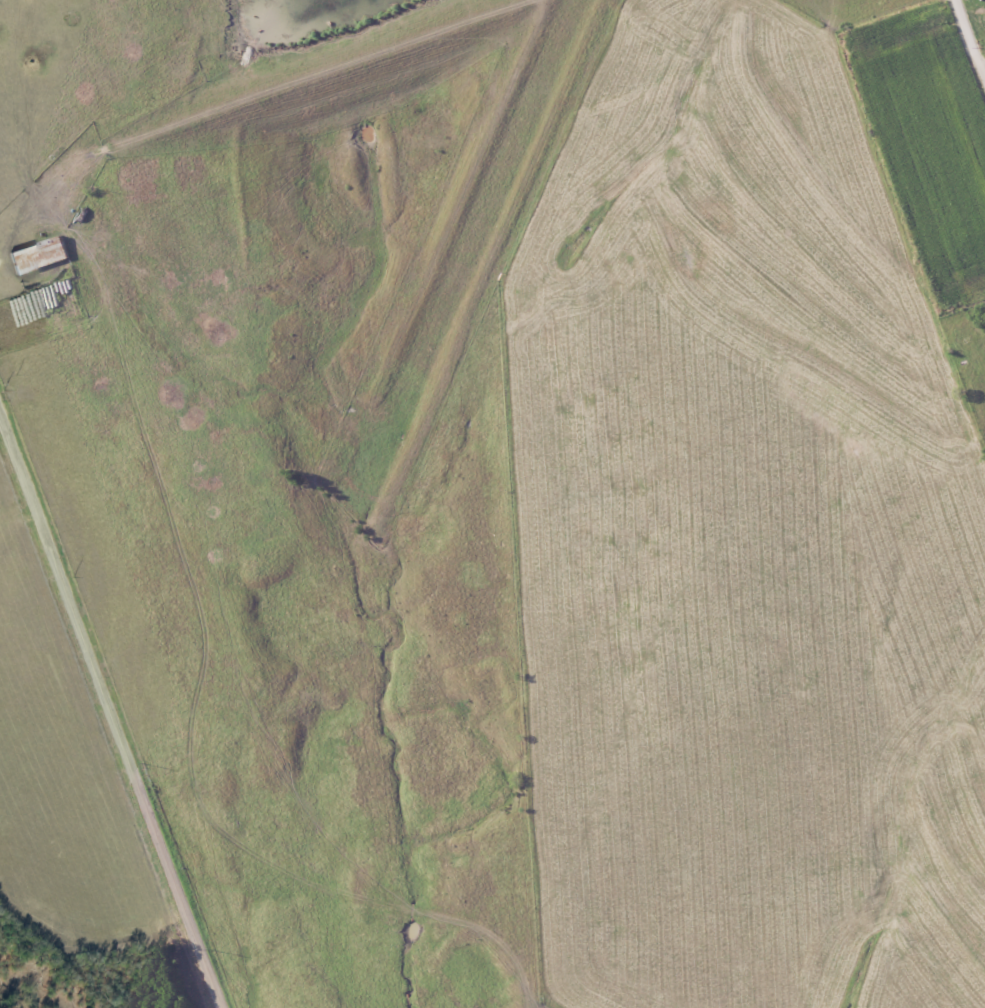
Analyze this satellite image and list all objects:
road: (968, 37)
dam: (270, 57)
road: (111, 709)

